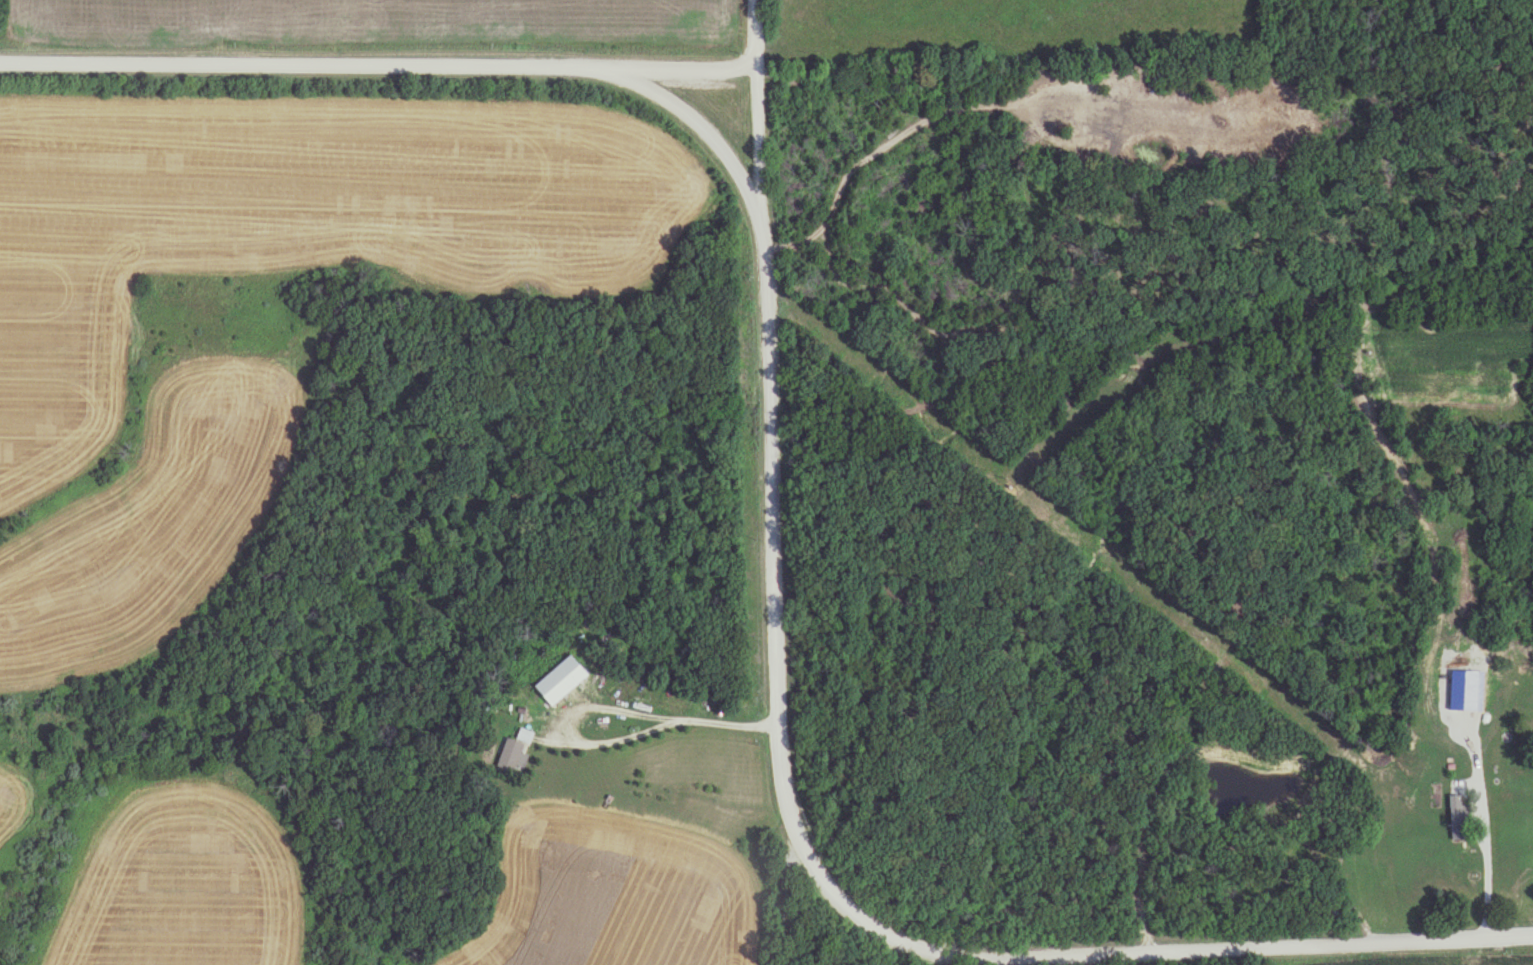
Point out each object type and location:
road: (756, 29)
road: (382, 71)
road: (703, 126)
building: (1473, 687)
road: (649, 718)
building: (531, 722)
building: (514, 756)
road: (1485, 798)
building: (1458, 820)
road: (794, 841)

